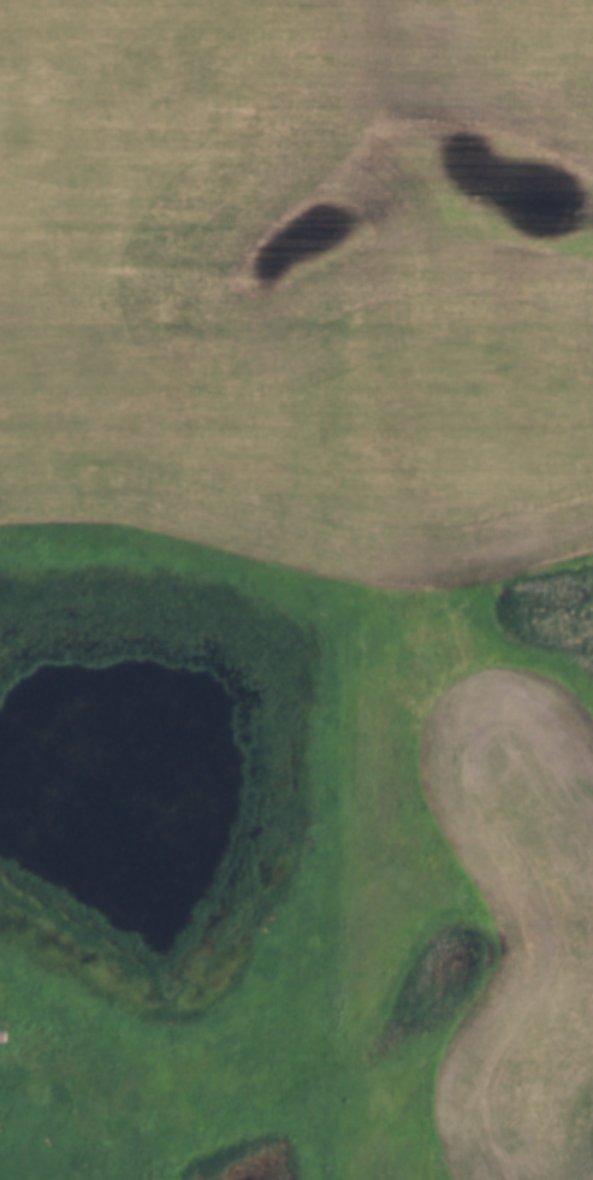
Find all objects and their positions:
building: (2, 1033)

